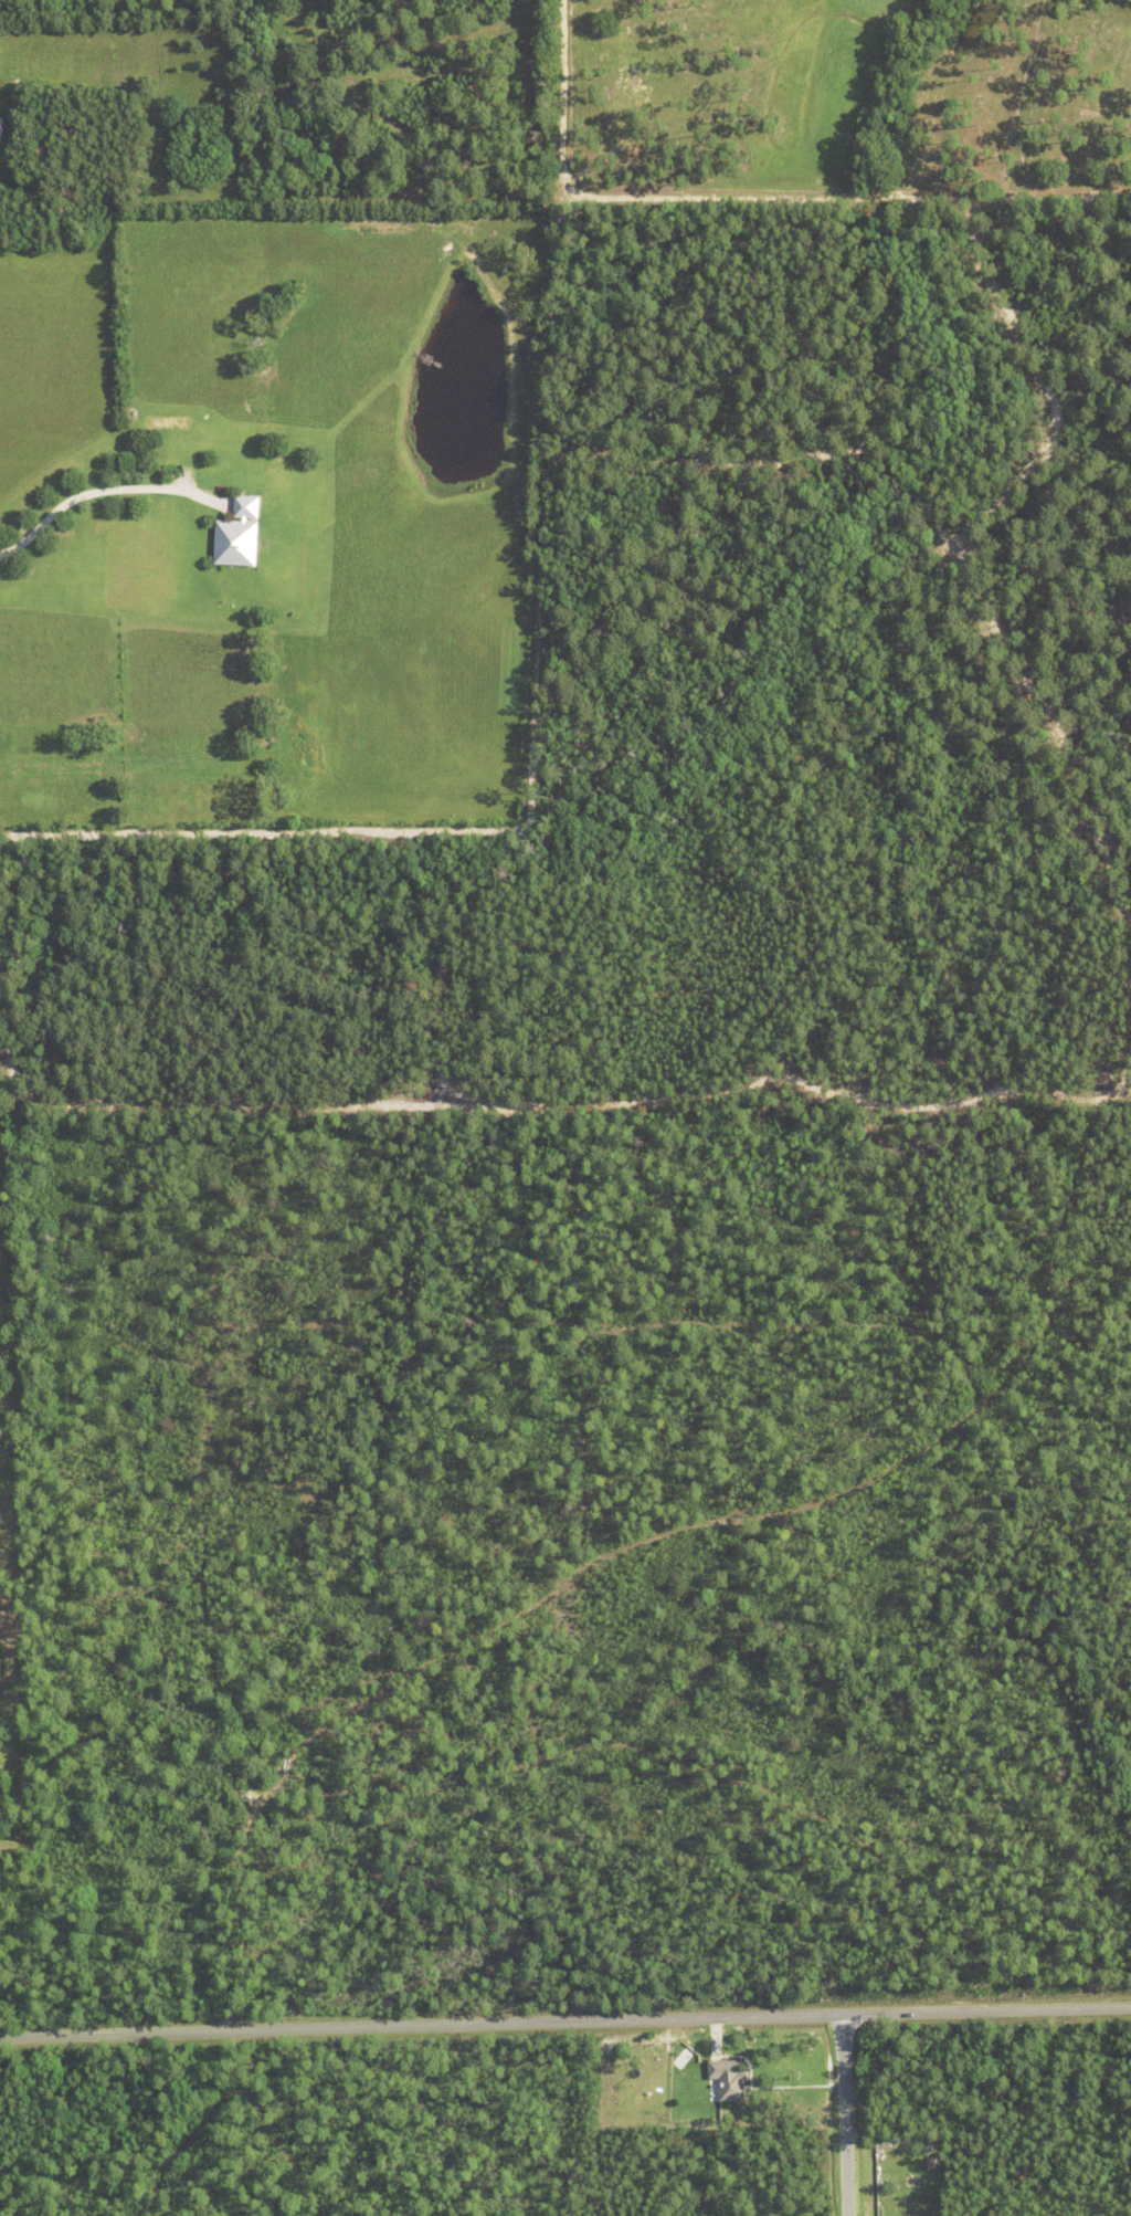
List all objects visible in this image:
road: (96, 497)
building: (237, 536)
road: (557, 1454)
road: (564, 2020)
building: (729, 2079)
road: (848, 2114)

